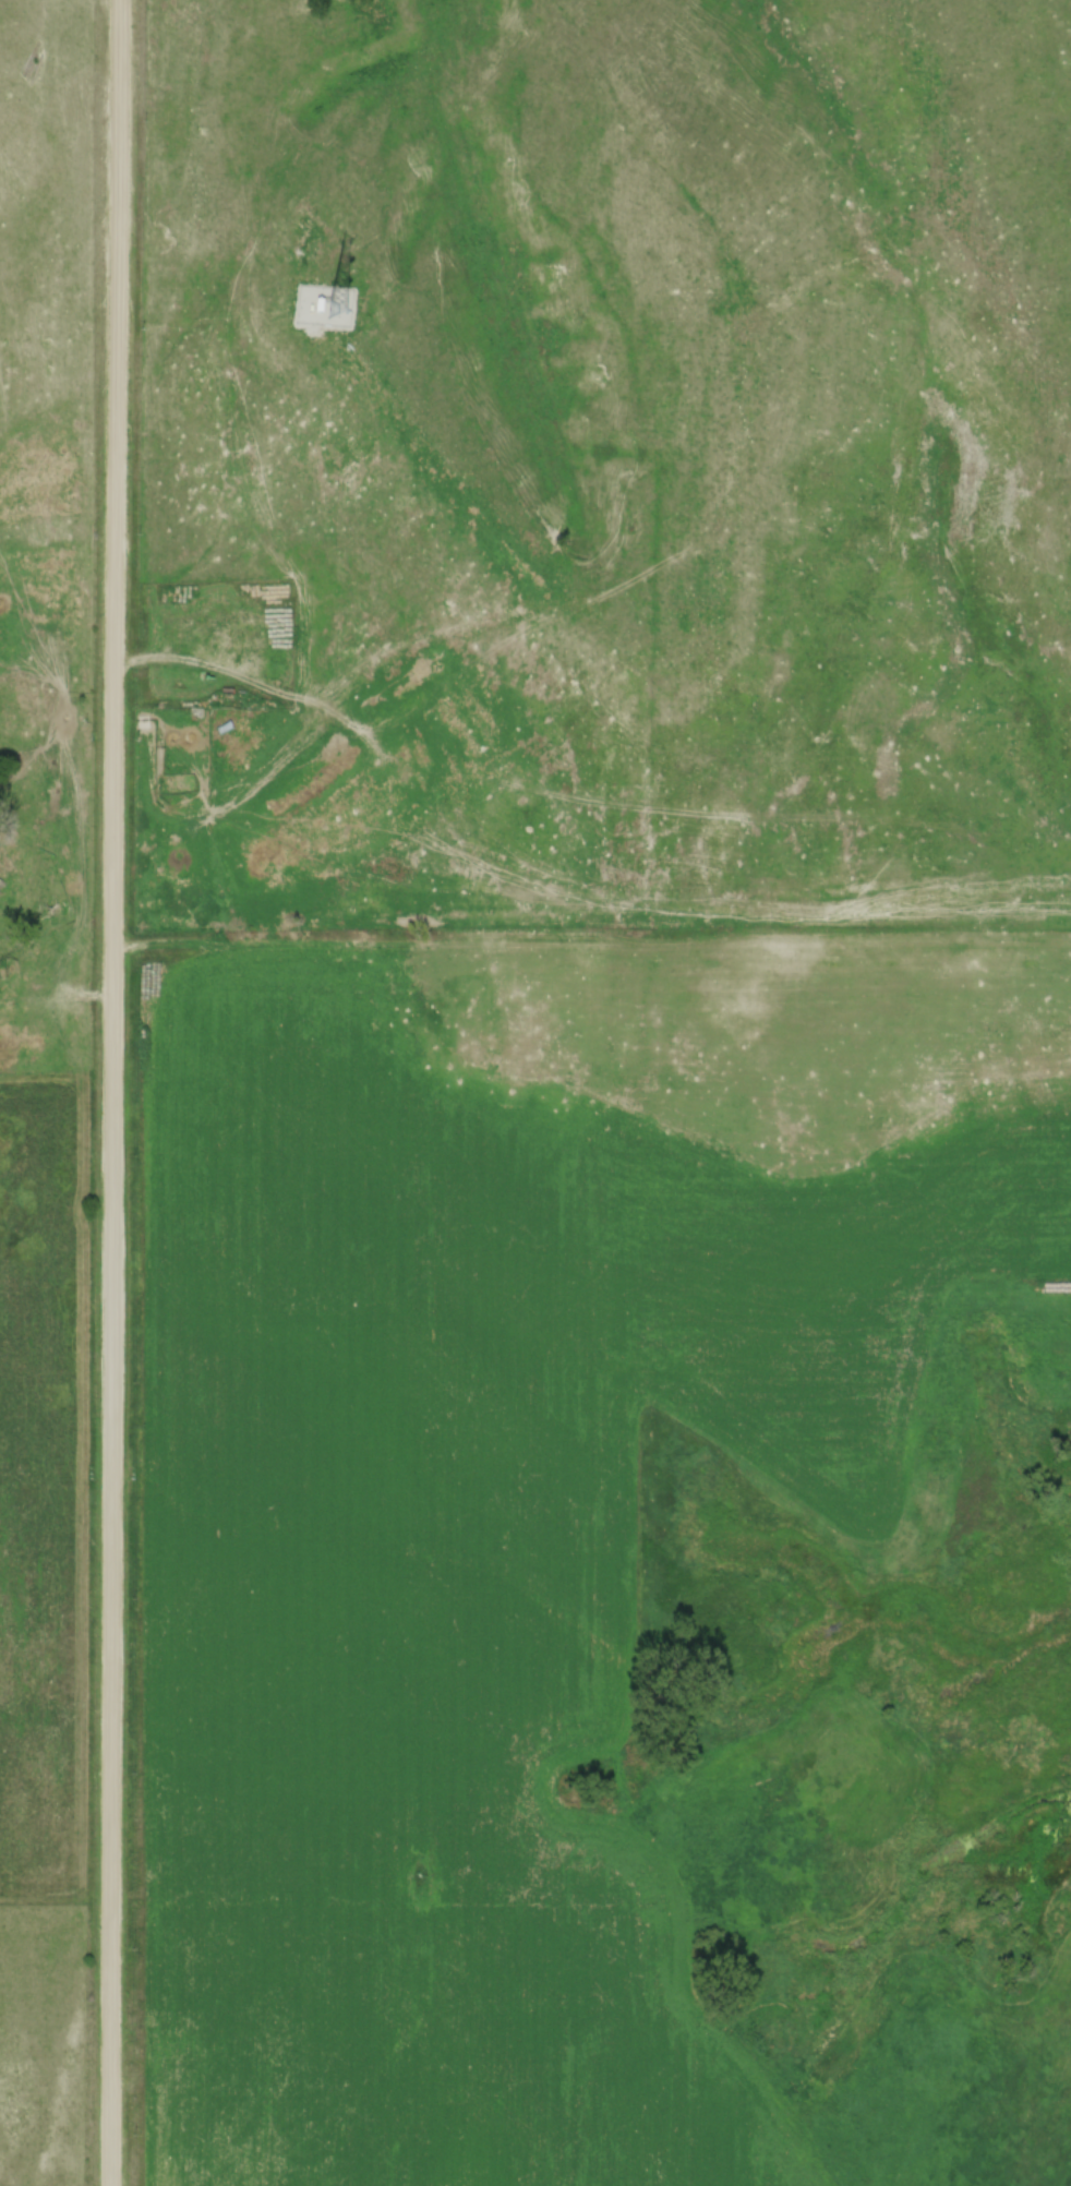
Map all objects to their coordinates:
road: (57, 996)
road: (112, 1092)

